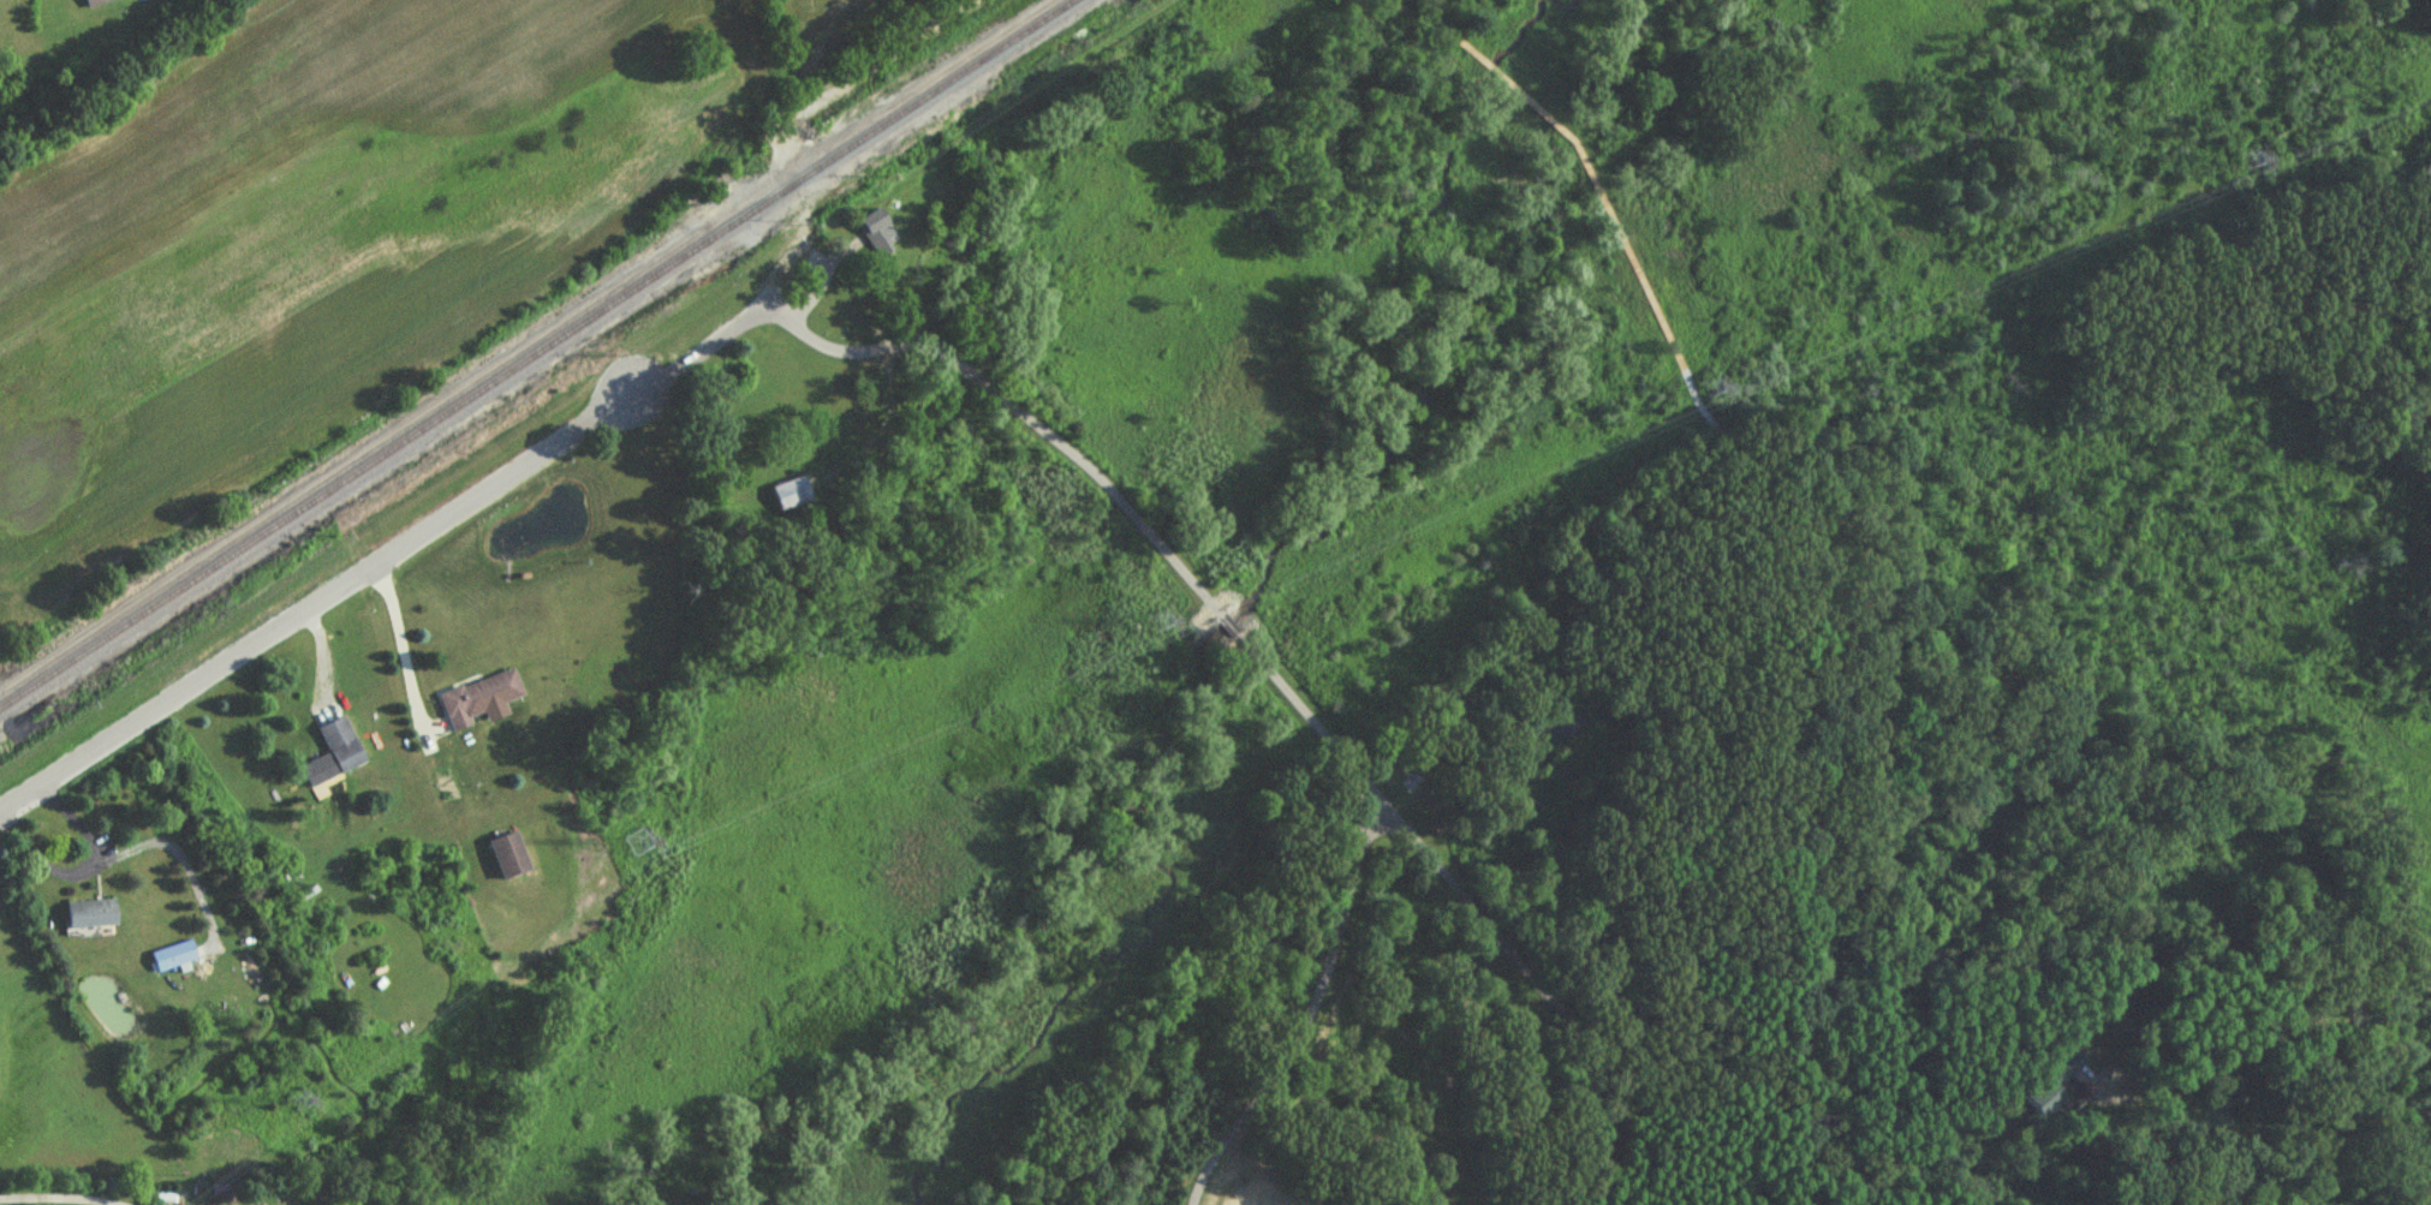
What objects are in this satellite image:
building: (99, 2)
crop: (818, 11)
road: (868, 71)
power tower: (2259, 163)
building: (878, 232)
crop: (317, 235)
railway: (537, 352)
power tower: (1724, 392)
road: (1021, 408)
building: (792, 495)
road: (388, 562)
power tower: (1173, 622)
road: (1229, 622)
road: (401, 644)
building: (479, 699)
road: (1304, 709)
building: (334, 754)
power tower: (645, 837)
building: (512, 858)
road: (82, 871)
building: (91, 915)
building: (178, 955)
road: (1535, 974)
road: (1307, 1009)
road: (2271, 1033)
building: (2062, 1074)
power tower: (304, 1103)
road: (65, 1192)

